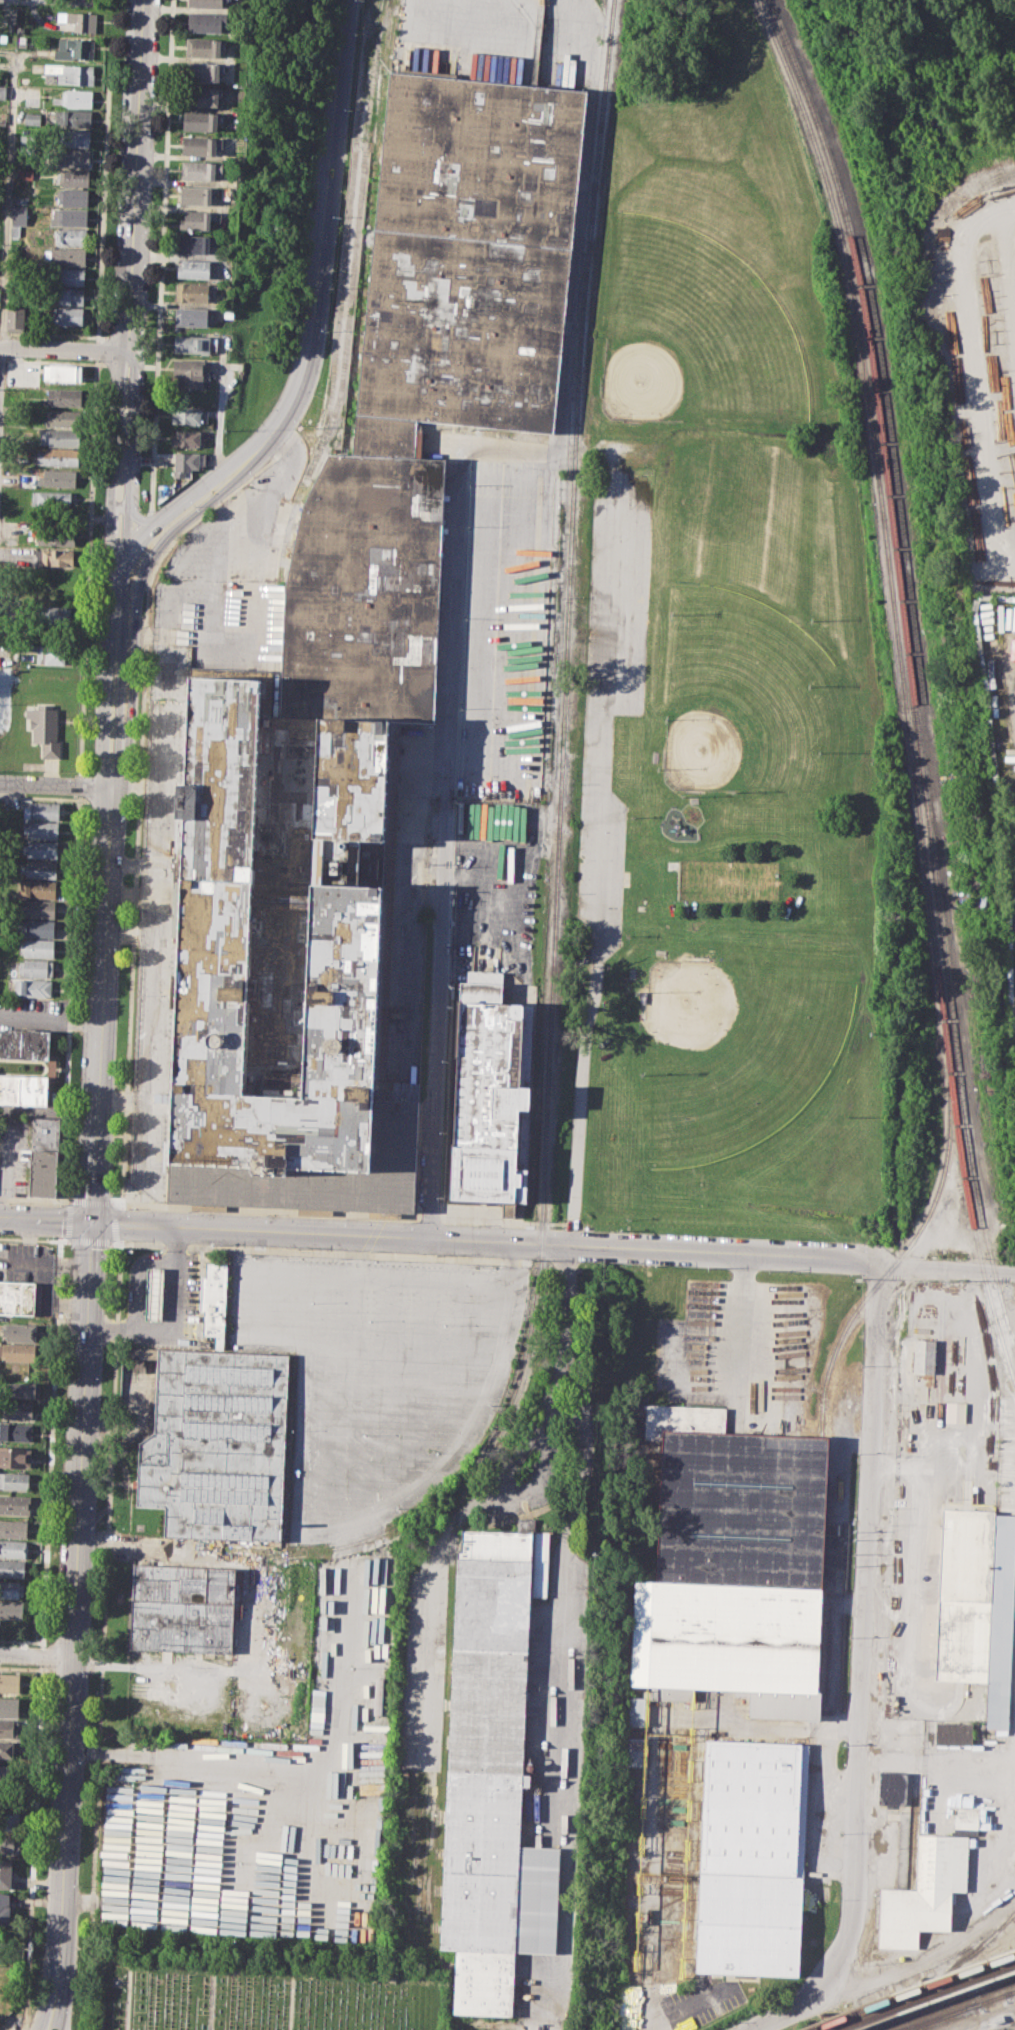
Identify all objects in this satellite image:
road: (83, 0)
building: (206, 3)
road: (449, 13)
building: (12, 14)
building: (79, 20)
building: (206, 22)
building: (205, 46)
building: (75, 48)
building: (204, 71)
building: (69, 74)
building: (24, 80)
building: (2, 92)
building: (204, 95)
building: (75, 98)
building: (33, 117)
building: (74, 117)
building: (202, 119)
building: (73, 137)
building: (26, 143)
building: (202, 144)
building: (73, 157)
building: (201, 169)
building: (23, 173)
road: (134, 175)
building: (72, 176)
building: (196, 194)
building: (72, 196)
park: (272, 197)
building: (22, 198)
road: (103, 200)
road: (8, 206)
building: (20, 214)
building: (69, 217)
building: (196, 220)
building: (15, 231)
building: (70, 236)
building: (193, 242)
road: (322, 255)
building: (65, 256)
road: (161, 259)
building: (194, 268)
building: (69, 276)
building: (192, 292)
building: (70, 296)
building: (69, 315)
building: (191, 317)
building: (16, 318)
park: (696, 332)
road: (53, 334)
road: (126, 337)
road: (152, 339)
building: (192, 343)
road: (63, 348)
road: (97, 350)
road: (52, 361)
road: (124, 364)
road: (150, 366)
building: (63, 372)
building: (189, 373)
road: (972, 374)
building: (64, 396)
road: (220, 408)
building: (186, 415)
building: (64, 417)
building: (58, 437)
building: (186, 437)
building: (58, 456)
building: (185, 462)
road: (112, 468)
road: (129, 468)
building: (57, 478)
building: (10, 479)
building: (51, 498)
park: (733, 502)
road: (119, 504)
road: (146, 518)
road: (156, 523)
building: (57, 535)
building: (54, 557)
road: (88, 568)
traffic signals: (116, 588)
building: (56, 595)
building: (54, 615)
road: (136, 621)
building: (50, 653)
railway: (910, 668)
building: (358, 673)
parking lot: (612, 679)
railway: (903, 684)
road: (120, 686)
road: (105, 687)
park: (733, 696)
park: (751, 698)
building: (45, 728)
railway: (917, 764)
road: (55, 784)
road: (79, 785)
road: (139, 789)
road: (39, 797)
building: (42, 810)
building: (41, 829)
road: (588, 847)
building: (41, 848)
building: (40, 868)
park: (728, 880)
building: (38, 887)
building: (38, 907)
building: (36, 927)
building: (36, 947)
building: (36, 967)
building: (33, 987)
railway: (552, 992)
road: (70, 997)
road: (100, 1003)
building: (34, 1007)
road: (50, 1021)
road: (437, 1024)
railway: (539, 1041)
building: (24, 1043)
park: (737, 1050)
building: (23, 1089)
building: (490, 1092)
road: (47, 1110)
building: (44, 1132)
building: (43, 1173)
road: (35, 1198)
road: (271, 1210)
road: (44, 1218)
road: (430, 1219)
road: (505, 1221)
road: (33, 1239)
road: (113, 1241)
road: (552, 1245)
road: (334, 1251)
railway: (906, 1251)
road: (134, 1278)
building: (155, 1293)
building: (17, 1297)
building: (214, 1297)
road: (167, 1315)
road: (740, 1320)
building: (19, 1331)
building: (18, 1352)
building: (923, 1355)
parking lot: (377, 1371)
building: (23, 1390)
building: (18, 1409)
building: (955, 1411)
road: (542, 1427)
building: (16, 1430)
road: (51, 1441)
building: (217, 1444)
building: (16, 1456)
building: (15, 1480)
building: (15, 1504)
building: (13, 1528)
railway: (371, 1538)
building: (13, 1548)
building: (736, 1564)
building: (13, 1569)
building: (12, 1589)
building: (966, 1596)
building: (11, 1609)
building: (182, 1609)
building: (1002, 1624)
road: (74, 1626)
road: (23, 1641)
road: (557, 1650)
road: (36, 1653)
road: (40, 1656)
road: (864, 1668)
building: (10, 1682)
building: (9, 1706)
building: (634, 1711)
building: (8, 1728)
building: (955, 1736)
building: (8, 1749)
building: (633, 1751)
building: (6, 1773)
building: (492, 1781)
building: (893, 1788)
building: (13, 1821)
building: (8, 1844)
road: (32, 1847)
building: (754, 1858)
building: (5, 1873)
building: (926, 1893)
building: (4, 1908)
railway: (1014, 1915)
railway: (937, 1980)
railway: (996, 1985)
railway: (911, 1990)
railway: (1010, 1991)
building: (3, 1994)
railway: (926, 1996)
railway: (995, 1996)
park: (262, 1998)
road: (127, 2000)
road: (210, 2002)
road: (290, 2003)
railway: (945, 2004)
railway: (936, 2016)
railway: (939, 2016)

